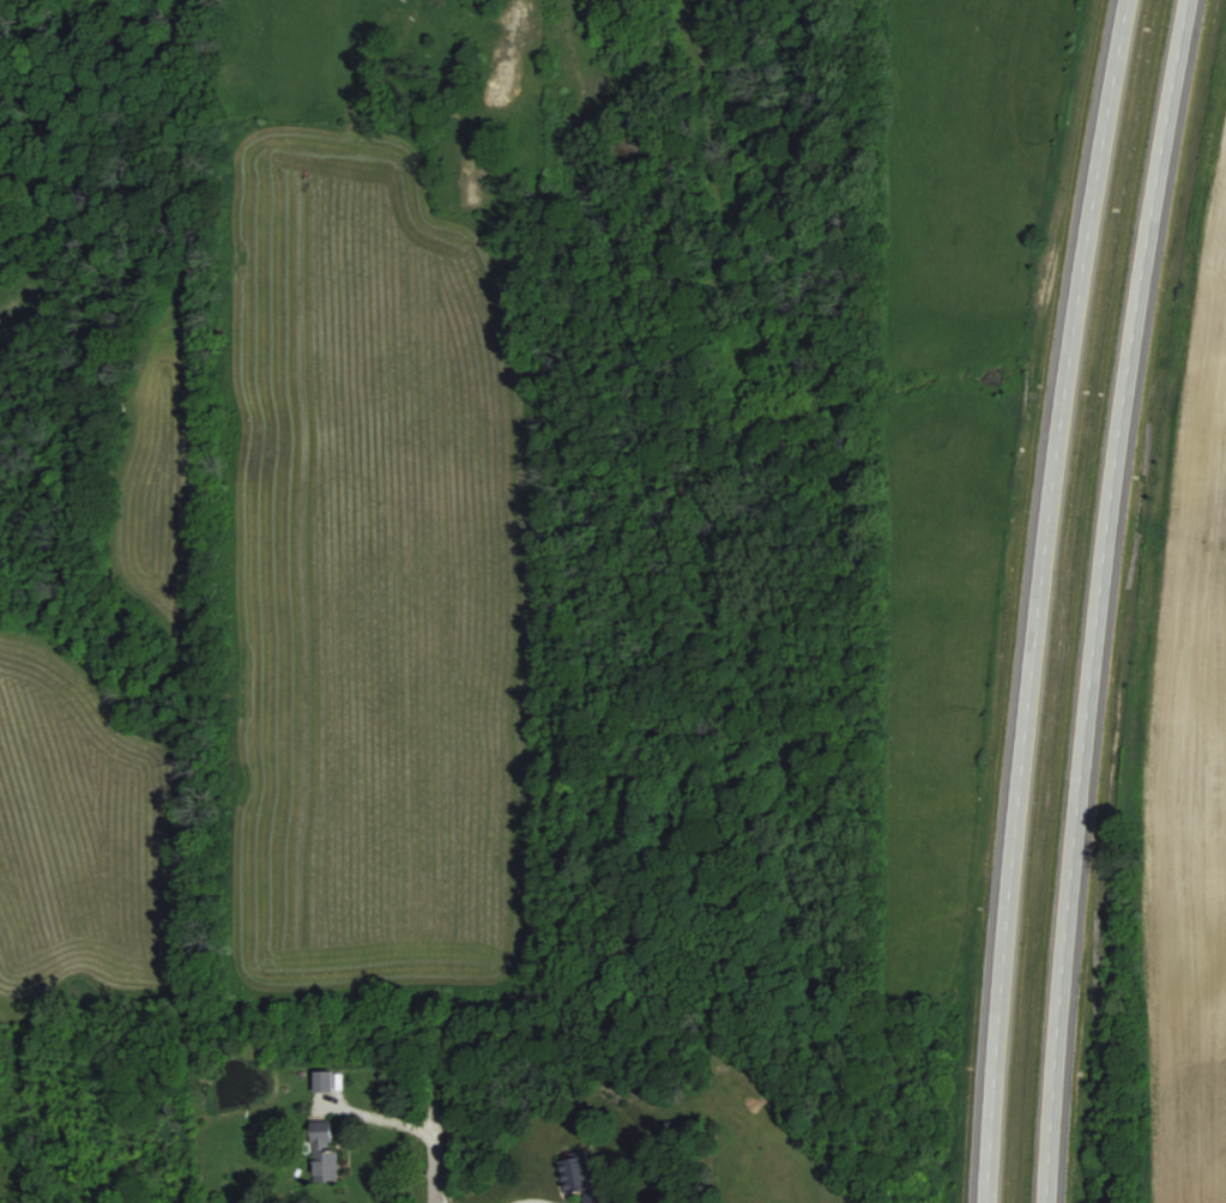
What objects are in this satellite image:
road: (248, 282)
road: (1035, 599)
road: (1099, 599)
building: (322, 1155)
road: (435, 1156)
building: (580, 1178)

